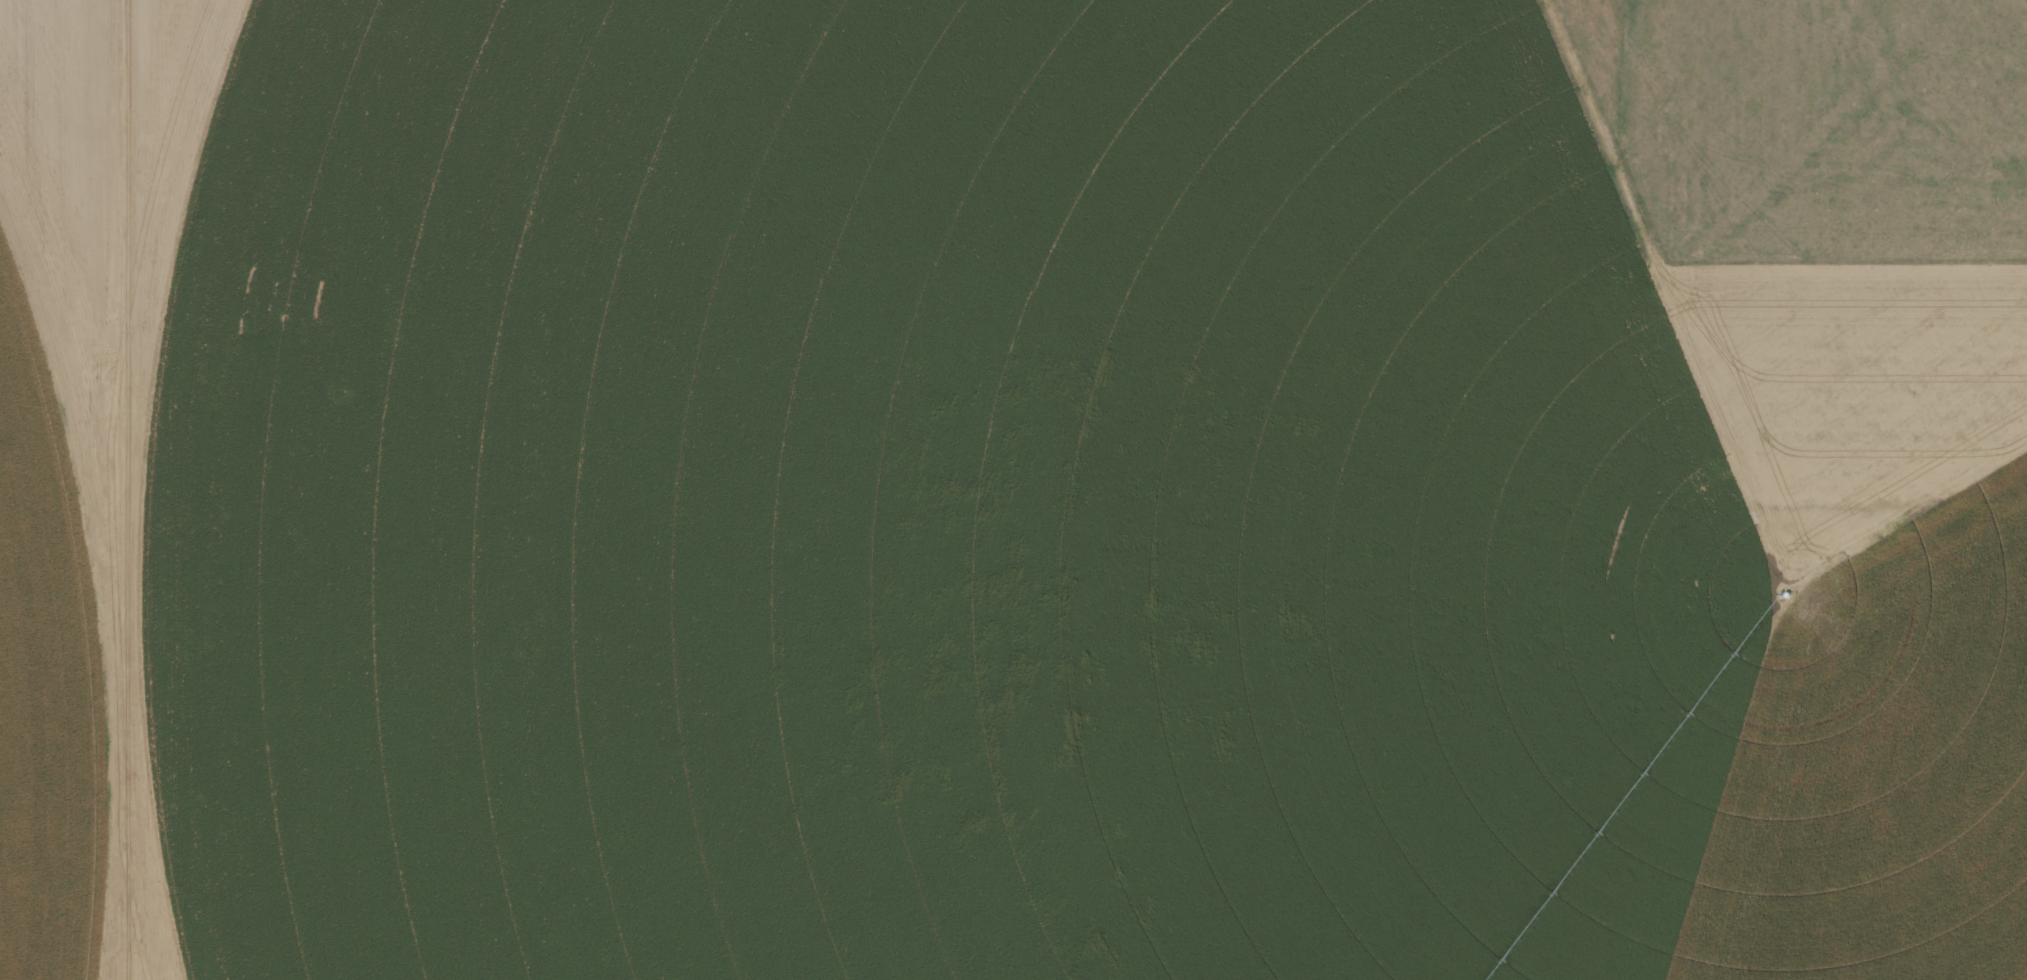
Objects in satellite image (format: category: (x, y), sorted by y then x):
road: (172, 490)

